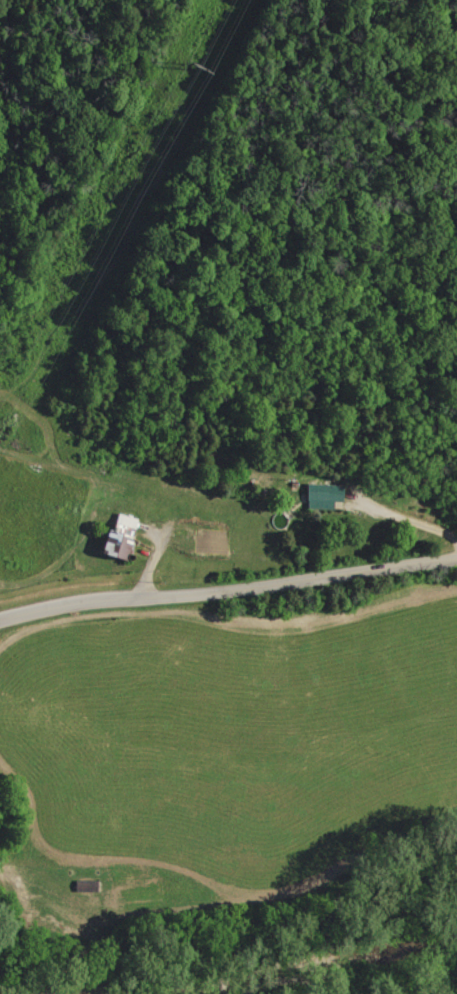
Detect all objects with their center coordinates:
building: (322, 496)
road: (407, 519)
building: (113, 538)
road: (228, 590)

